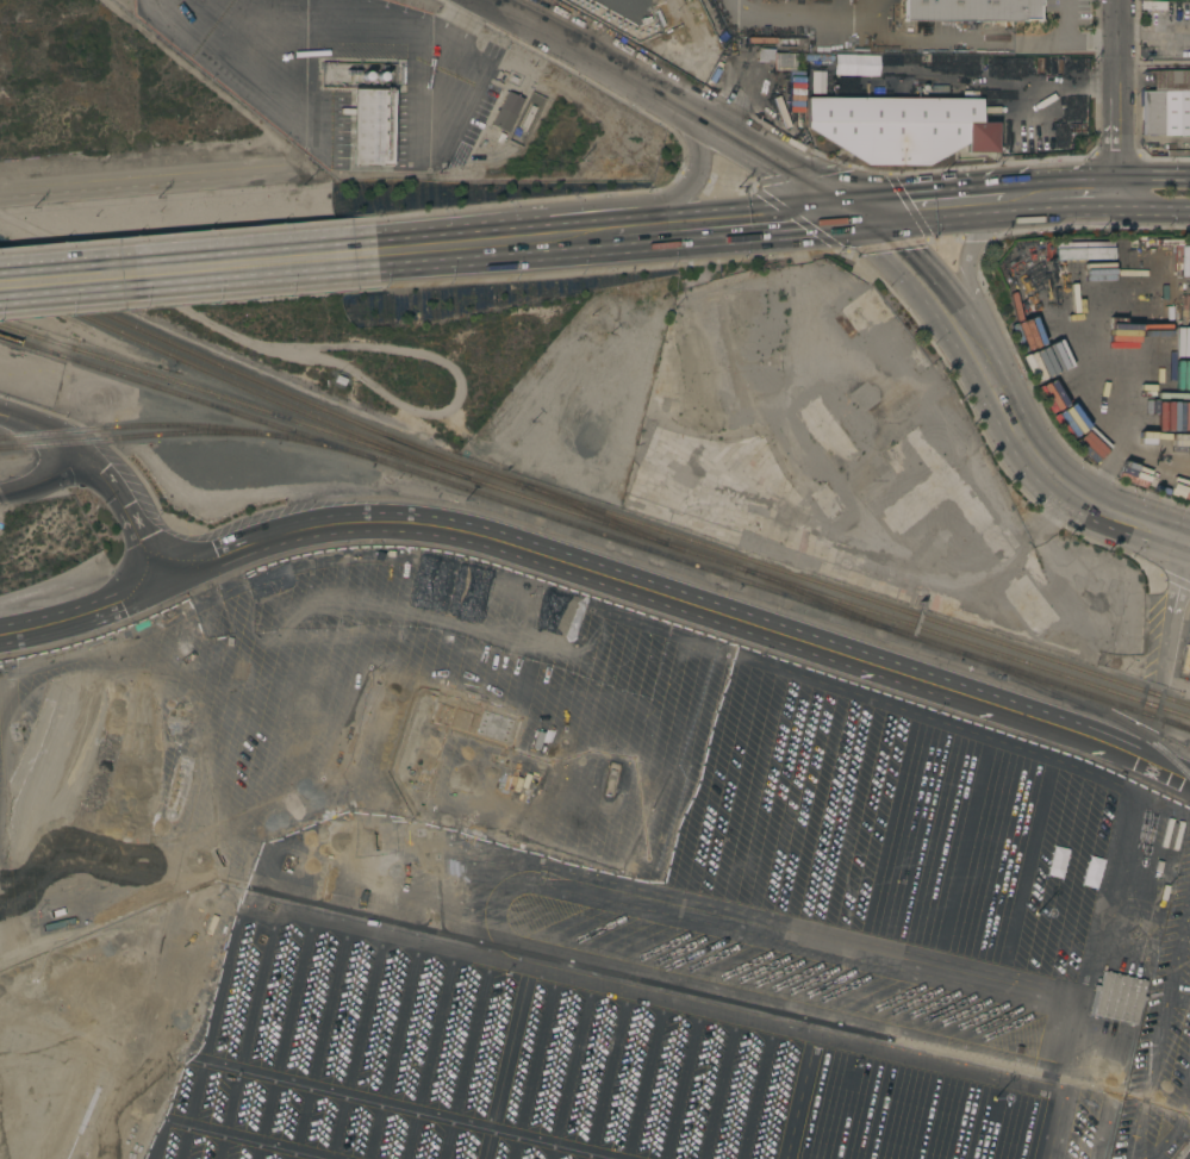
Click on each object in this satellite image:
building: (1152, 5)
building: (970, 10)
road: (521, 11)
road: (881, 14)
road: (805, 18)
road: (1063, 20)
road: (999, 38)
building: (1189, 50)
building: (854, 64)
road: (260, 66)
building: (778, 67)
road: (1155, 68)
road: (443, 81)
building: (929, 81)
building: (816, 82)
road: (1121, 88)
building: (935, 89)
road: (1060, 89)
building: (1166, 104)
building: (507, 112)
road: (700, 113)
building: (373, 126)
building: (899, 127)
road: (373, 131)
building: (1171, 150)
road: (692, 172)
road: (1110, 177)
road: (971, 185)
road: (884, 200)
road: (1155, 210)
traffic signals: (856, 211)
road: (1076, 211)
road: (895, 216)
road: (983, 217)
road: (723, 223)
road: (482, 244)
building: (1120, 248)
building: (1082, 251)
building: (1179, 260)
road: (187, 269)
road: (964, 270)
road: (916, 274)
building: (1147, 342)
railway: (218, 375)
building: (1173, 375)
building: (339, 380)
railway: (177, 393)
railway: (219, 395)
road: (1102, 412)
building: (1067, 419)
railway: (179, 425)
railway: (138, 436)
road: (105, 471)
road: (1047, 472)
road: (1102, 473)
road: (43, 479)
railway: (586, 505)
railway: (596, 513)
road: (251, 540)
road: (1185, 540)
railway: (772, 591)
railway: (814, 593)
railway: (825, 603)
road: (1170, 607)
road: (87, 611)
road: (767, 631)
road: (719, 647)
road: (1175, 681)
railway: (1083, 704)
railway: (1177, 725)
building: (1160, 831)
building: (1119, 998)
road: (1178, 1003)
road: (1158, 1030)
road: (978, 1064)
road: (799, 1092)
road: (1177, 1126)

